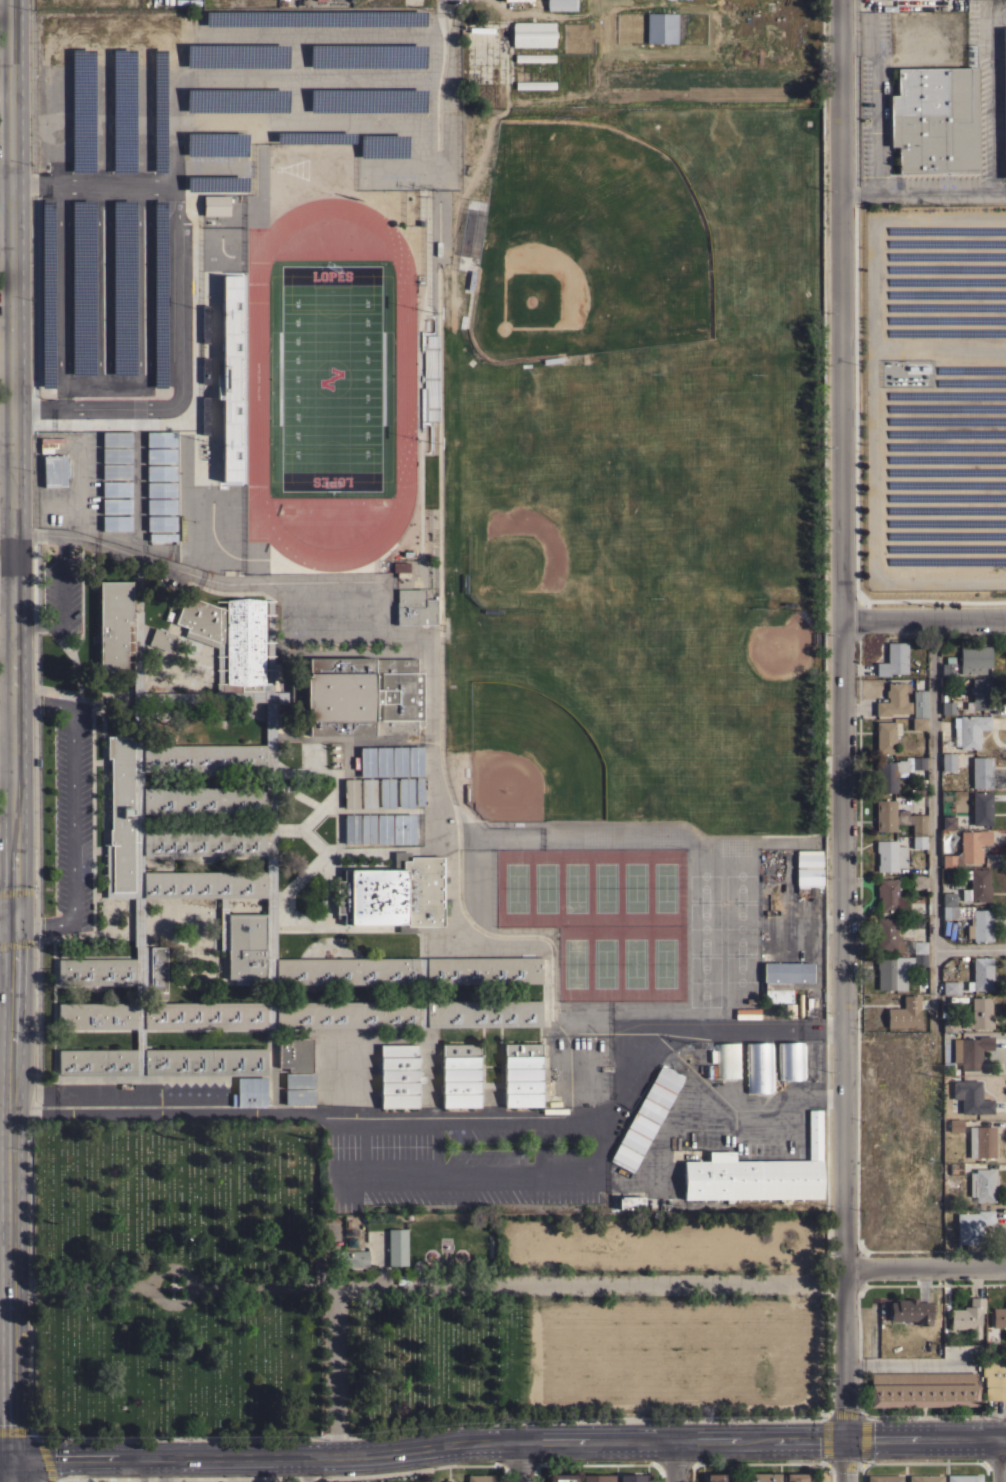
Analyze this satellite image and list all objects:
building: (518, 0)
building: (903, 1)
building: (561, 4)
building: (316, 17)
building: (661, 28)
building: (533, 34)
building: (237, 55)
building: (369, 56)
building: (534, 58)
building: (535, 84)
road: (988, 87)
building: (233, 99)
building: (367, 99)
building: (160, 110)
building: (83, 111)
building: (124, 111)
road: (878, 116)
building: (934, 120)
road: (253, 122)
building: (315, 137)
building: (217, 144)
building: (384, 146)
road: (6, 184)
building: (217, 184)
road: (999, 187)
road: (936, 189)
building: (216, 205)
park: (598, 230)
road: (6, 236)
road: (101, 286)
building: (83, 288)
building: (124, 288)
building: (47, 293)
building: (160, 295)
road: (62, 298)
road: (142, 327)
road: (180, 377)
building: (430, 377)
park: (329, 378)
track: (331, 384)
building: (116, 438)
building: (160, 438)
building: (45, 445)
building: (116, 455)
building: (160, 455)
road: (14, 460)
road: (7, 465)
park: (631, 466)
building: (54, 471)
building: (116, 471)
building: (160, 472)
building: (116, 488)
building: (160, 489)
building: (116, 505)
building: (160, 506)
building: (116, 522)
building: (161, 522)
building: (162, 536)
building: (400, 568)
road: (8, 580)
building: (414, 607)
road: (924, 617)
building: (134, 623)
building: (110, 624)
building: (161, 639)
building: (231, 643)
building: (893, 660)
building: (974, 660)
building: (948, 666)
building: (980, 693)
building: (358, 696)
building: (894, 700)
building: (919, 703)
building: (948, 707)
building: (918, 723)
building: (972, 729)
building: (884, 737)
road: (843, 741)
building: (205, 756)
park: (528, 757)
building: (311, 759)
building: (398, 760)
building: (414, 760)
building: (366, 761)
building: (382, 761)
building: (948, 762)
road: (7, 765)
building: (895, 771)
building: (981, 772)
building: (418, 791)
building: (386, 792)
building: (405, 792)
building: (350, 793)
building: (368, 793)
building: (205, 798)
building: (311, 798)
building: (981, 808)
building: (122, 813)
parking lot: (74, 816)
road: (73, 817)
road: (934, 818)
building: (900, 821)
building: (948, 822)
building: (350, 828)
building: (367, 828)
building: (403, 828)
building: (383, 829)
building: (206, 840)
building: (312, 841)
building: (968, 848)
building: (989, 848)
building: (889, 855)
building: (809, 862)
building: (206, 881)
building: (918, 881)
building: (976, 885)
building: (302, 887)
building: (393, 894)
building: (889, 896)
building: (948, 898)
building: (918, 908)
park: (604, 918)
road: (7, 920)
traffic signals: (14, 920)
building: (972, 920)
building: (887, 935)
building: (248, 945)
building: (918, 946)
road: (971, 947)
building: (348, 970)
building: (485, 970)
building: (896, 970)
building: (95, 971)
building: (158, 972)
building: (980, 974)
building: (784, 979)
building: (950, 987)
building: (789, 1010)
building: (485, 1013)
building: (905, 1013)
building: (980, 1013)
building: (348, 1014)
building: (163, 1017)
building: (949, 1026)
road: (737, 1030)
building: (970, 1050)
building: (295, 1054)
building: (163, 1060)
building: (727, 1060)
building: (790, 1060)
building: (759, 1067)
building: (710, 1070)
building: (523, 1074)
road: (7, 1075)
building: (460, 1075)
building: (398, 1076)
building: (299, 1080)
building: (250, 1092)
road: (769, 1095)
building: (299, 1096)
building: (970, 1097)
building: (554, 1110)
road: (354, 1115)
building: (646, 1117)
building: (955, 1125)
building: (981, 1142)
building: (956, 1168)
building: (758, 1173)
building: (982, 1184)
road: (13, 1188)
building: (630, 1202)
building: (971, 1226)
building: (396, 1246)
building: (350, 1258)
road: (926, 1272)
road: (508, 1282)
park: (381, 1292)
building: (910, 1311)
building: (968, 1316)
building: (999, 1317)
building: (994, 1378)
building: (922, 1386)
traffic signals: (845, 1438)
road: (508, 1444)
road: (6, 1457)
traffic signals: (12, 1457)
road: (1002, 1460)
road: (675, 1461)
road: (524, 1462)
road: (12, 1469)
road: (141, 1471)
road: (159, 1471)
building: (761, 1477)
building: (795, 1477)
building: (480, 1478)
building: (562, 1478)
building: (598, 1478)
building: (632, 1478)
building: (717, 1478)
building: (883, 1478)
building: (925, 1478)
building: (963, 1478)
building: (391, 1481)
building: (420, 1481)
building: (447, 1481)
building: (456, 1481)

